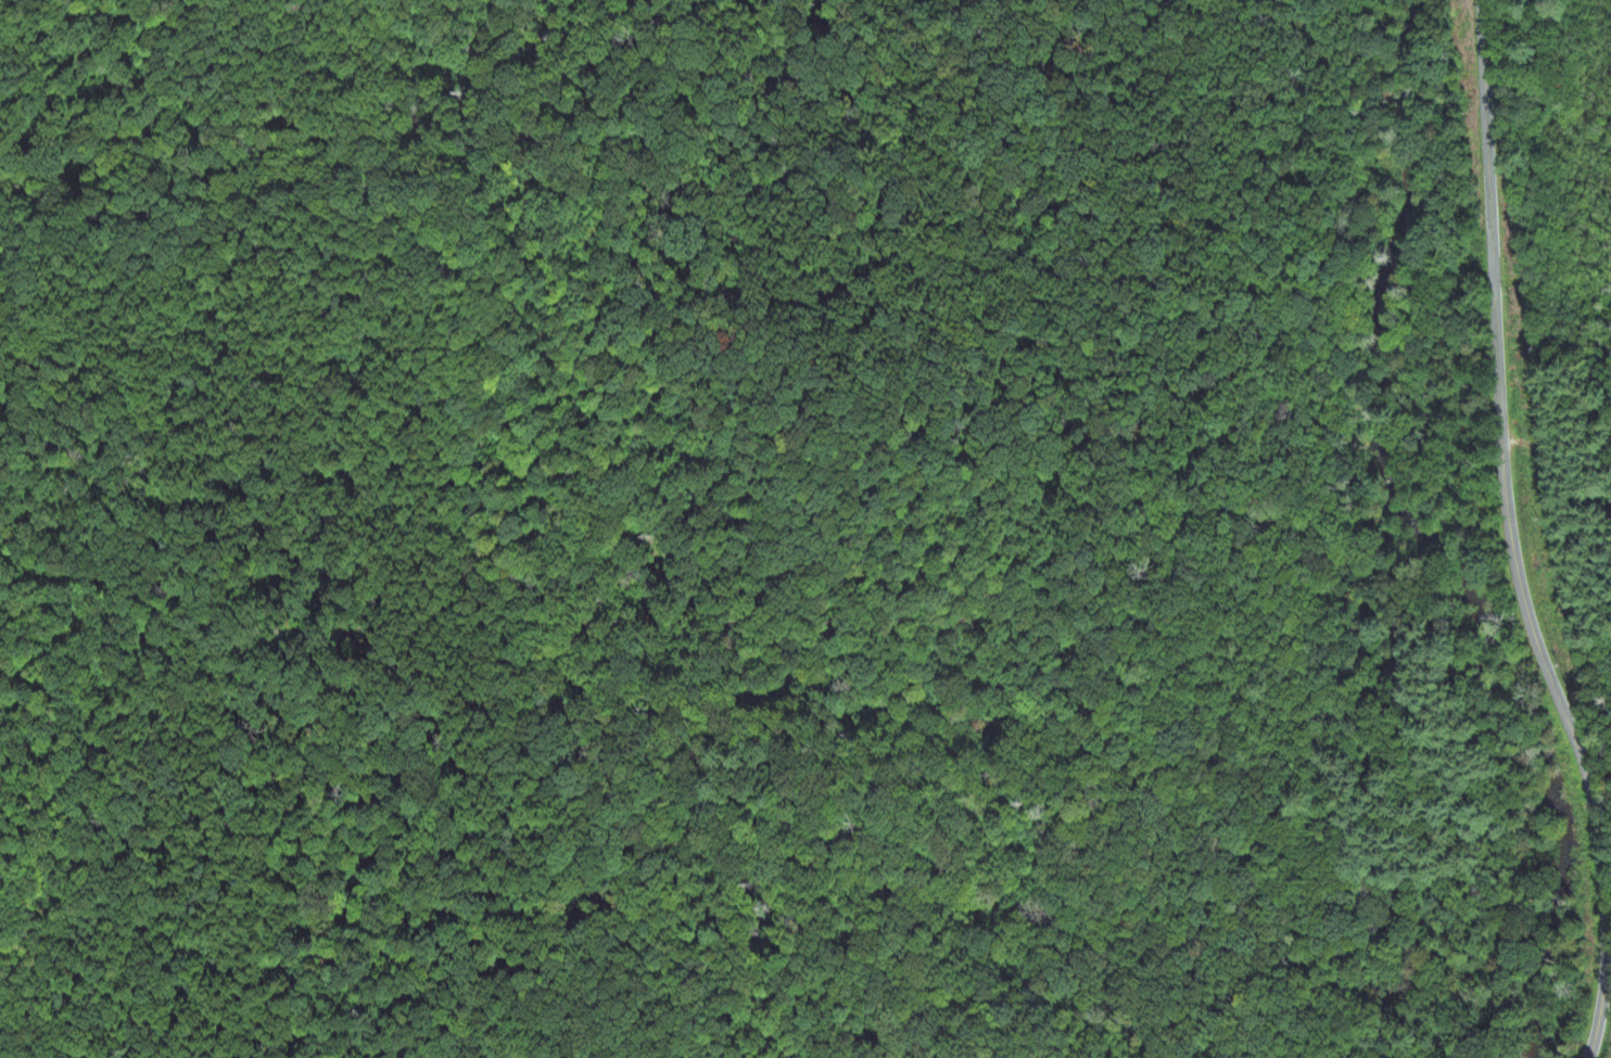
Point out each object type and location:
road: (1511, 536)

